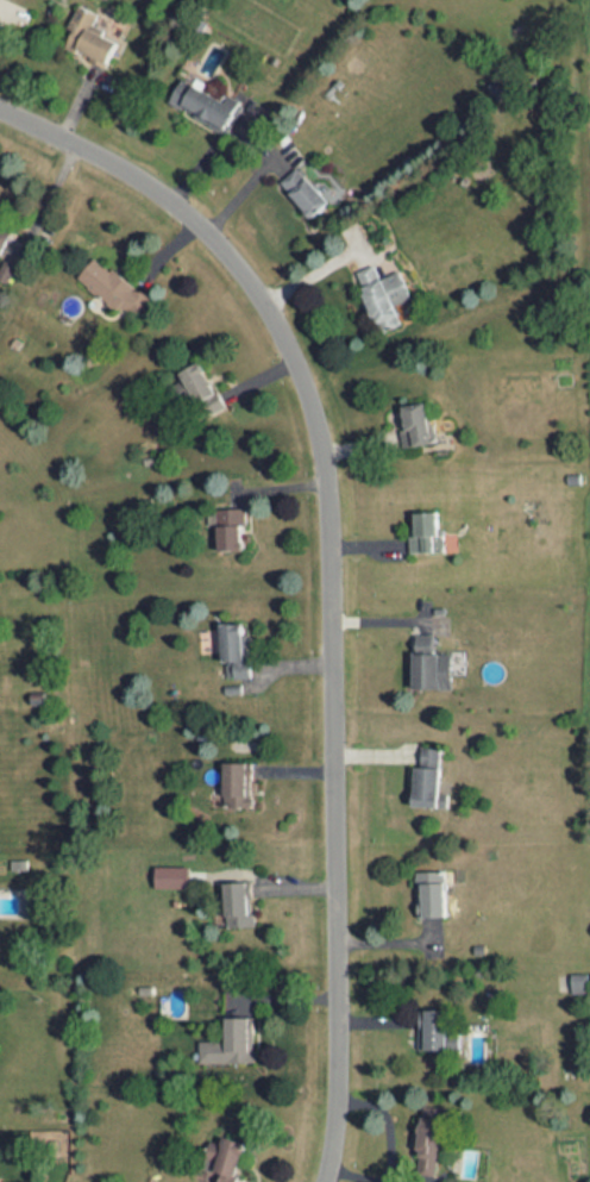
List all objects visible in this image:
building: (89, 37)
building: (206, 106)
building: (305, 192)
building: (4, 233)
building: (10, 264)
building: (114, 288)
building: (383, 295)
building: (181, 389)
building: (202, 389)
building: (416, 425)
building: (227, 527)
building: (427, 533)
road: (328, 568)
building: (233, 650)
building: (429, 664)
building: (427, 780)
building: (237, 784)
building: (171, 876)
building: (431, 893)
building: (238, 903)
building: (578, 983)
building: (432, 1030)
building: (230, 1043)
building: (429, 1140)
building: (224, 1157)

